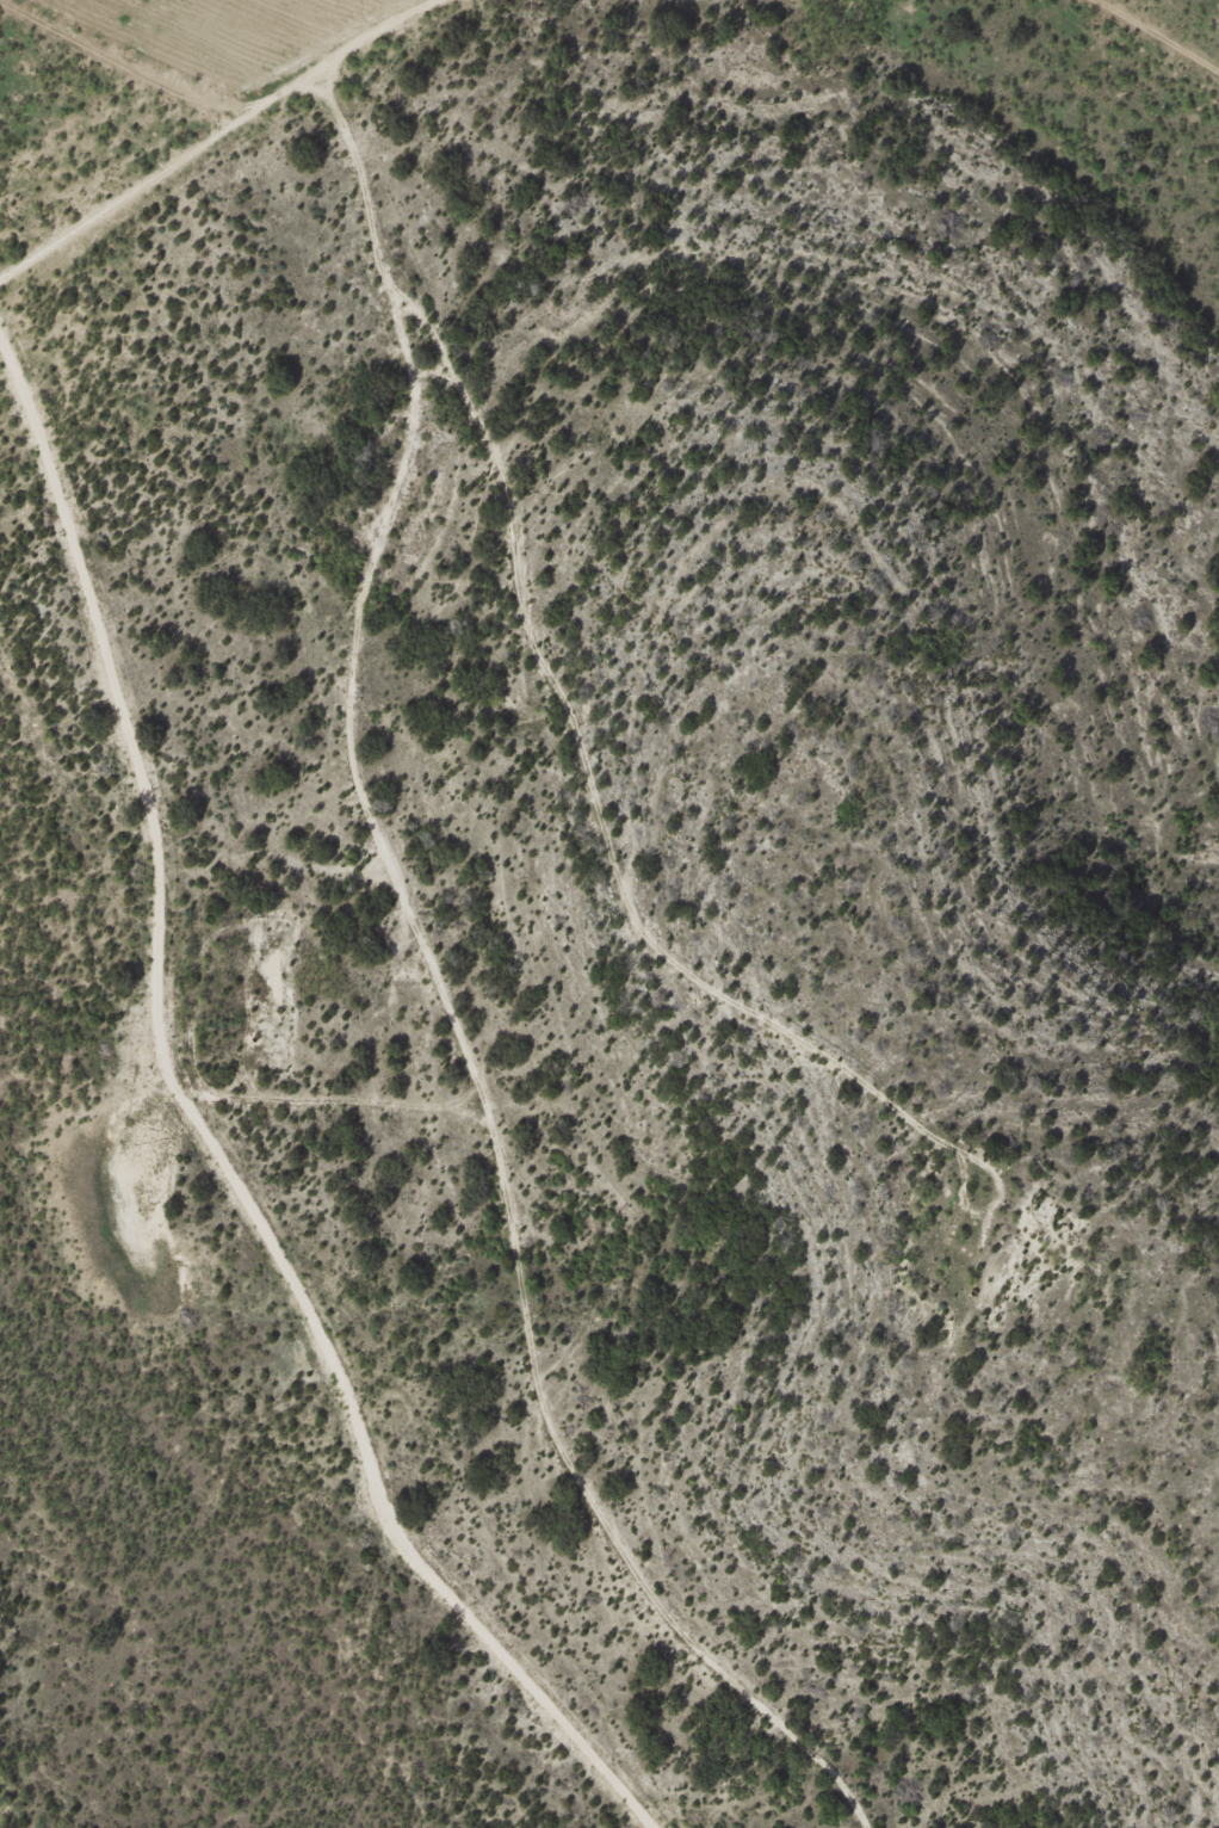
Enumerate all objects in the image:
road: (853, 5)
road: (1136, 43)
road: (209, 135)

